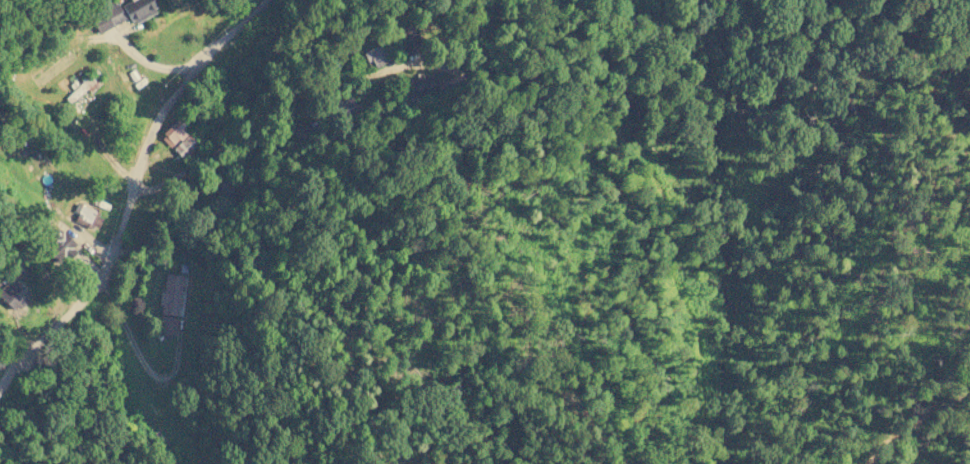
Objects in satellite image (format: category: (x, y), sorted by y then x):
building: (138, 9)
building: (108, 17)
building: (410, 41)
building: (376, 56)
building: (424, 85)
building: (84, 86)
building: (179, 139)
building: (225, 189)
road: (132, 191)
building: (87, 216)
building: (61, 246)
building: (12, 294)
building: (171, 302)
building: (2, 359)

